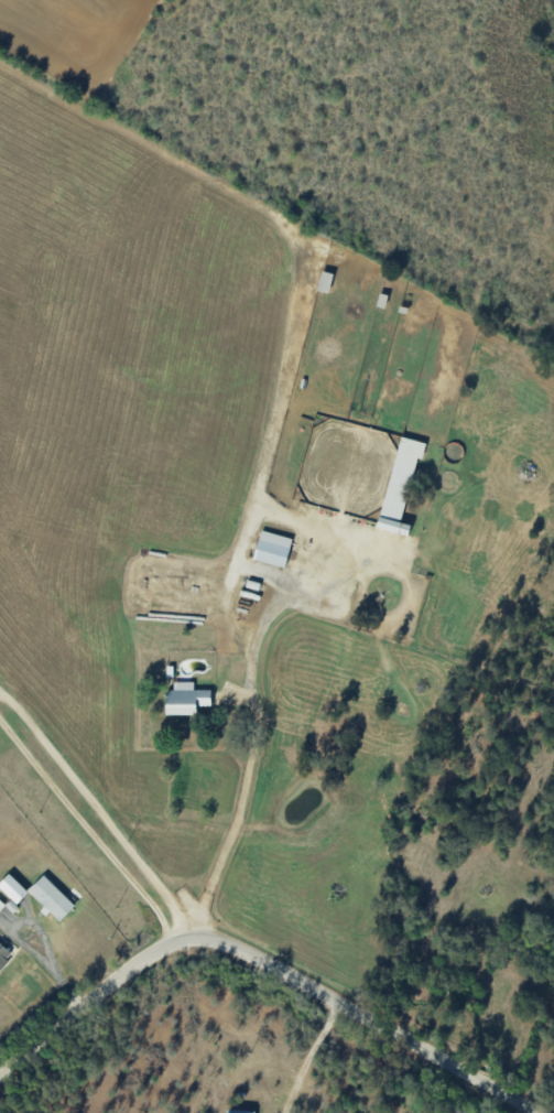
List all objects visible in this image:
building: (400, 484)
building: (272, 548)
building: (185, 698)
road: (258, 731)
road: (88, 828)
building: (12, 887)
building: (50, 897)
building: (1, 905)
road: (37, 936)
building: (3, 954)
road: (263, 958)
road: (308, 1055)
building: (238, 1111)

